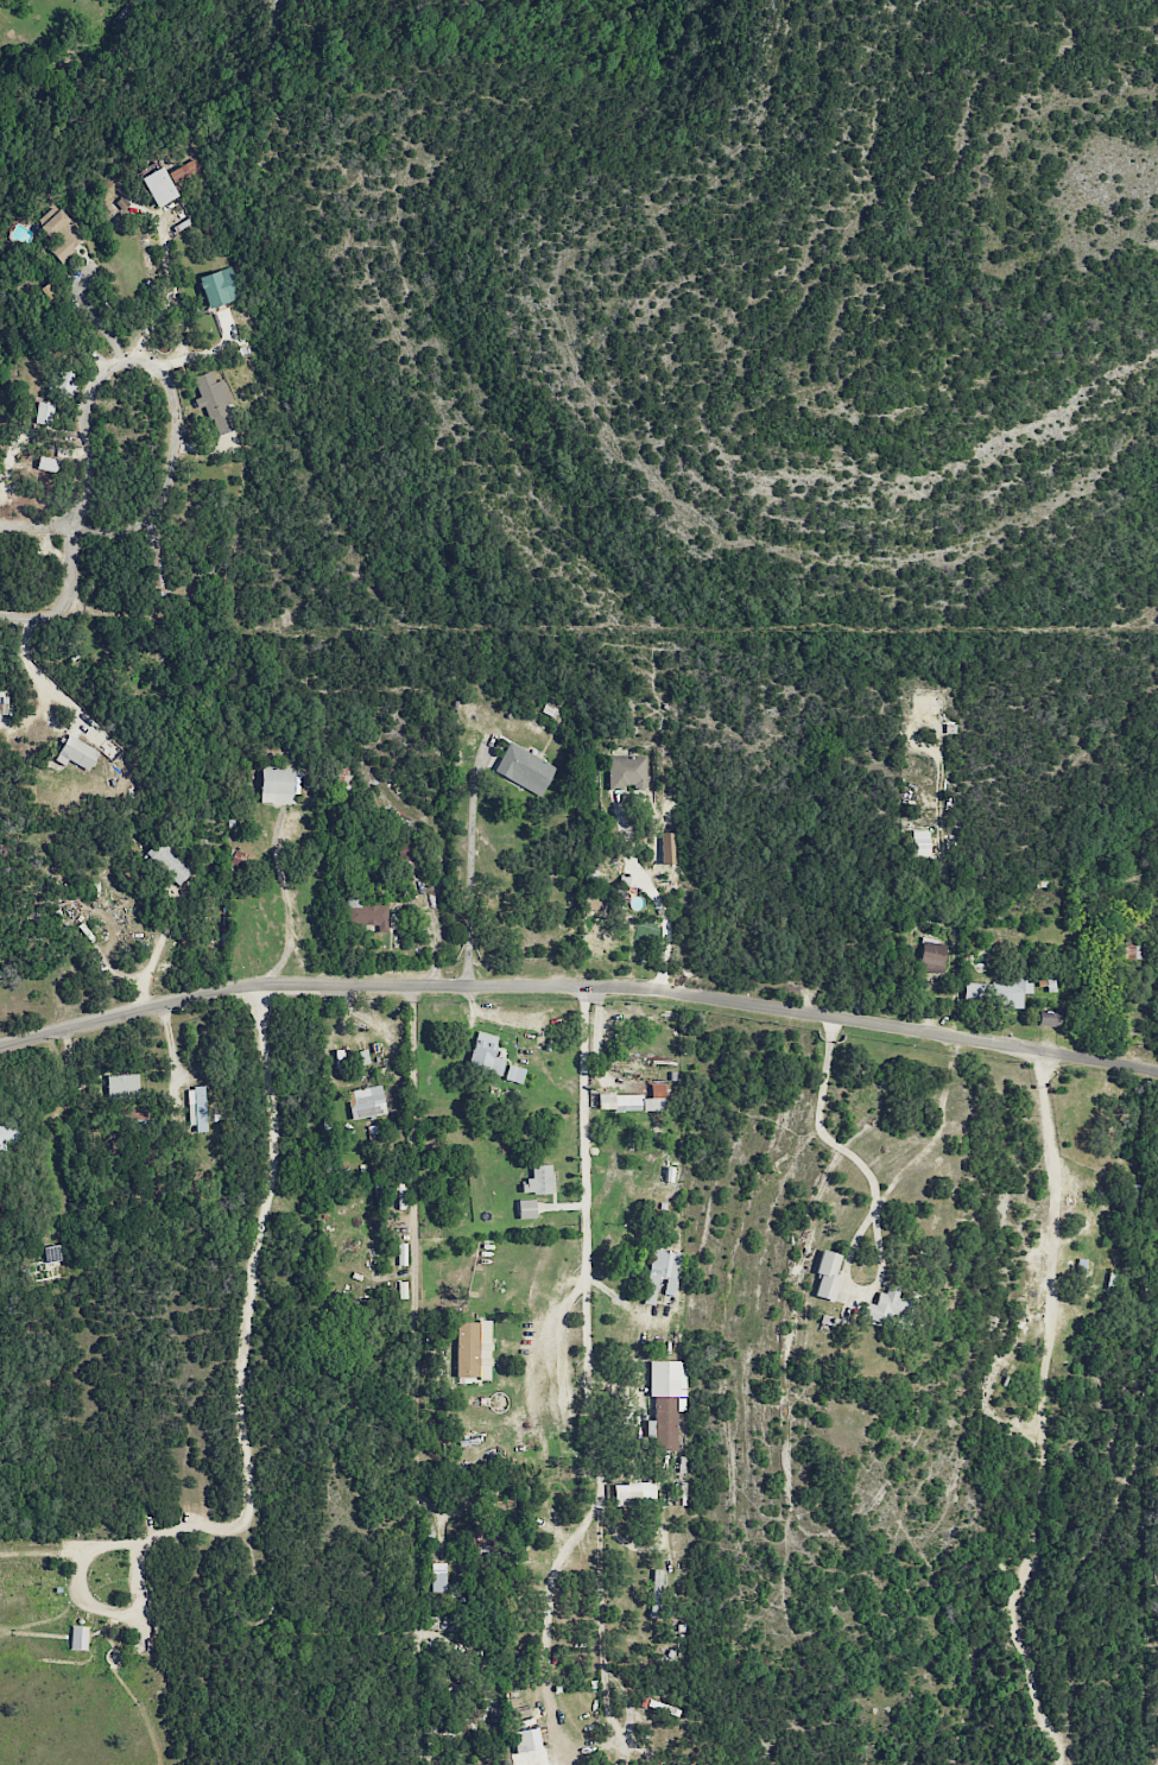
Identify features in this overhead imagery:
building: (183, 172)
building: (158, 186)
building: (59, 233)
building: (219, 287)
road: (94, 316)
building: (67, 382)
building: (214, 401)
road: (173, 403)
building: (44, 412)
building: (45, 463)
road: (34, 526)
building: (156, 570)
road: (67, 596)
road: (38, 677)
building: (4, 706)
building: (77, 752)
building: (524, 768)
building: (626, 771)
building: (277, 785)
building: (919, 843)
building: (405, 850)
building: (169, 862)
road: (469, 866)
road: (652, 890)
road: (290, 905)
building: (366, 913)
road: (153, 954)
building: (931, 956)
building: (0, 980)
road: (578, 985)
building: (995, 992)
building: (1048, 1018)
building: (485, 1054)
building: (513, 1074)
building: (122, 1084)
building: (635, 1100)
building: (366, 1102)
building: (196, 1109)
building: (6, 1133)
park: (638, 1157)
building: (538, 1181)
road: (874, 1190)
building: (525, 1208)
building: (51, 1253)
building: (662, 1276)
building: (827, 1276)
building: (886, 1305)
road: (245, 1333)
building: (473, 1349)
road: (587, 1353)
road: (411, 1374)
building: (664, 1403)
road: (1045, 1415)
park: (186, 1464)
building: (634, 1494)
building: (482, 1538)
building: (437, 1577)
building: (657, 1593)
road: (548, 1621)
building: (78, 1637)
building: (521, 1741)
building: (483, 1764)

